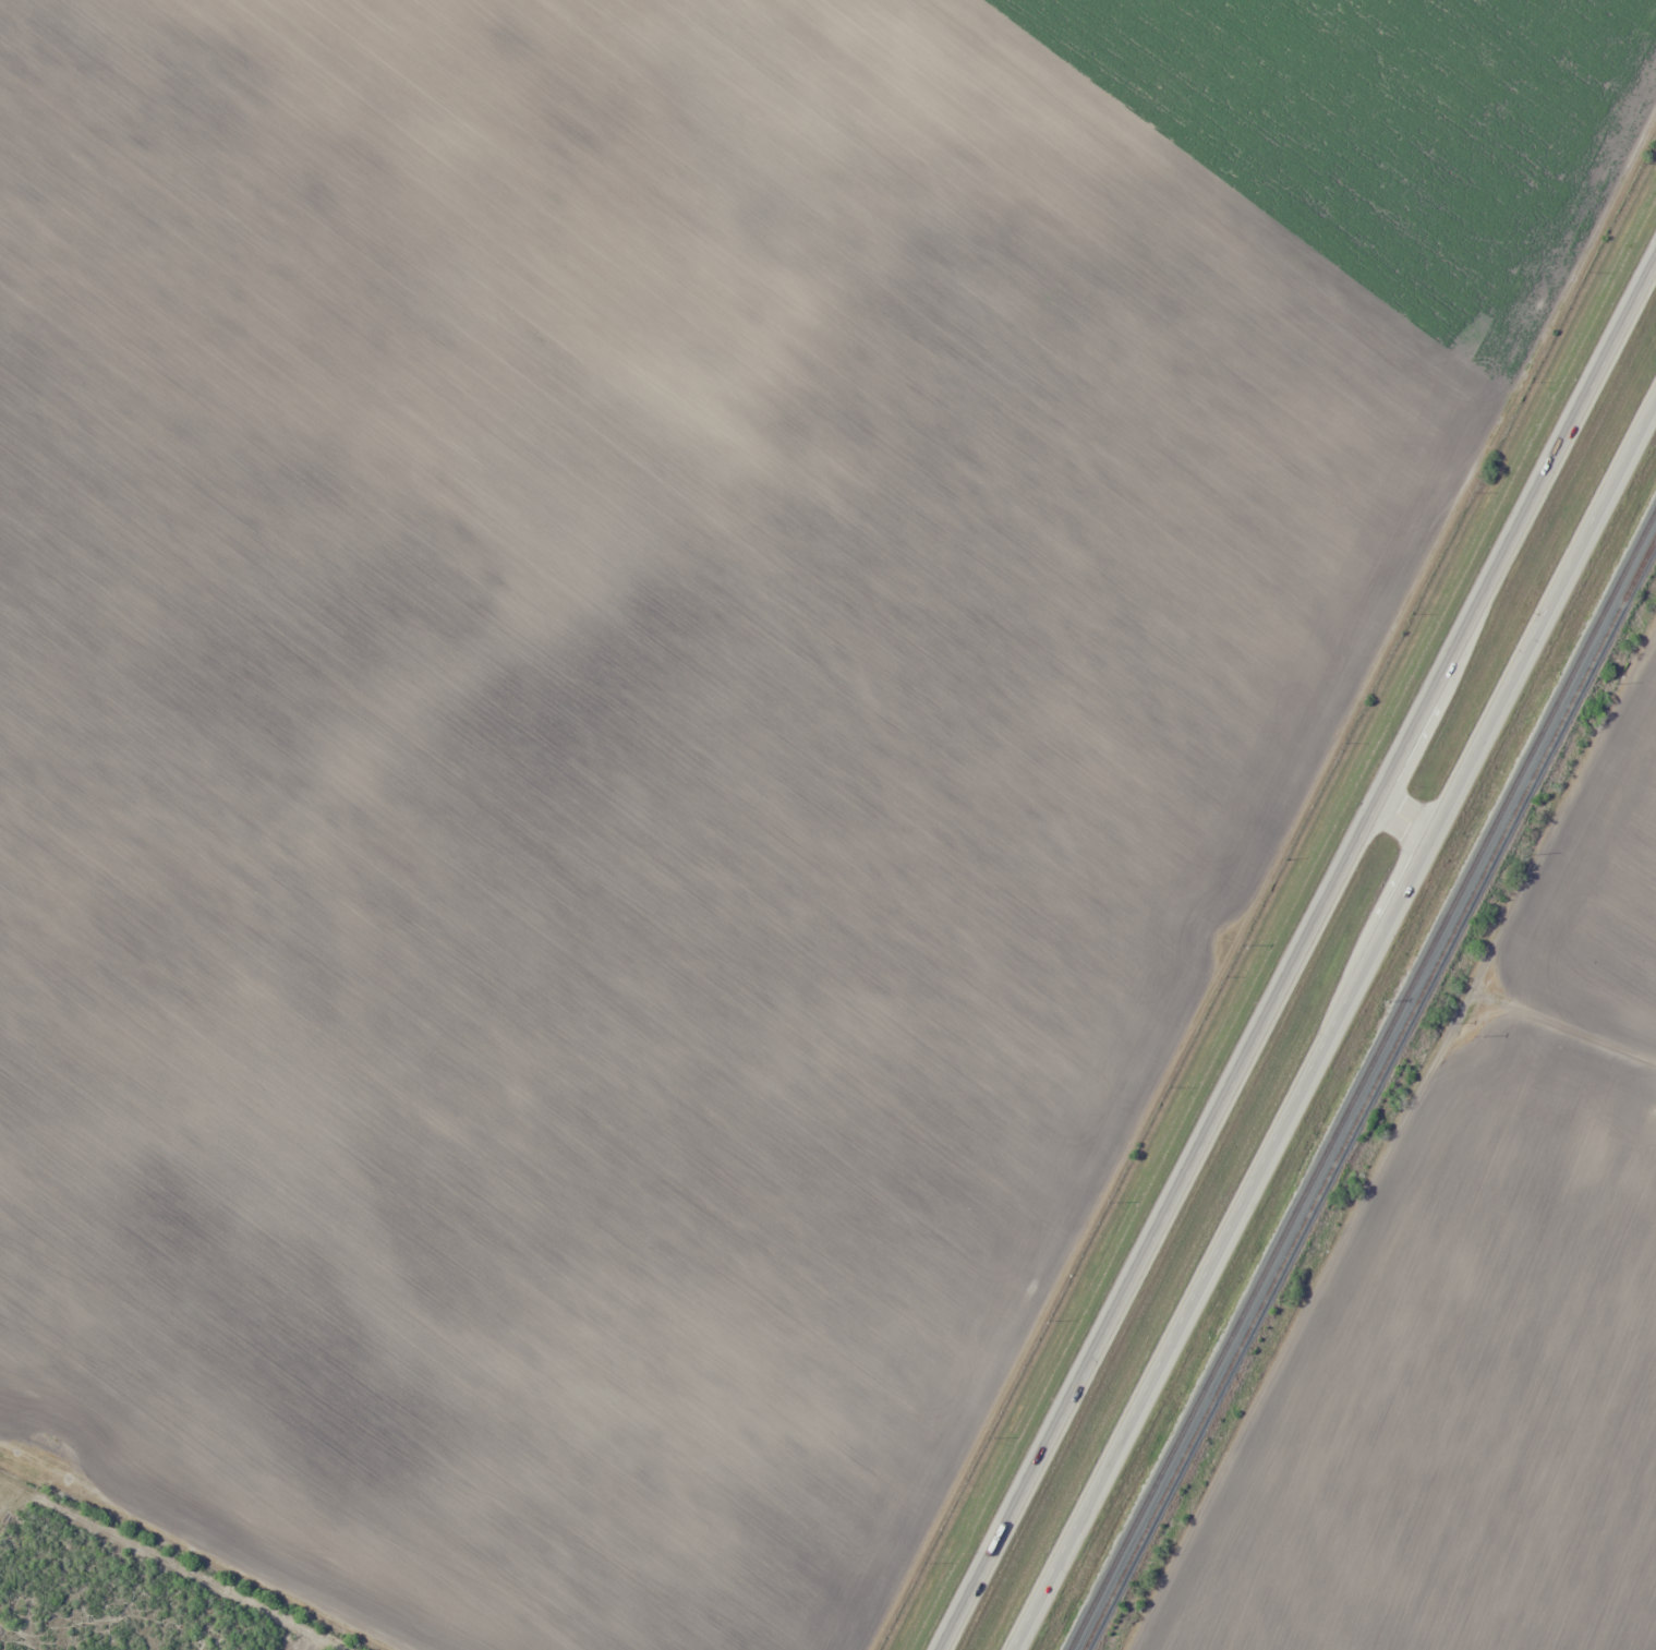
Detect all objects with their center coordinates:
road: (1414, 817)
road: (1298, 958)
road: (1342, 1039)
railway: (1371, 1101)
road: (191, 1562)

